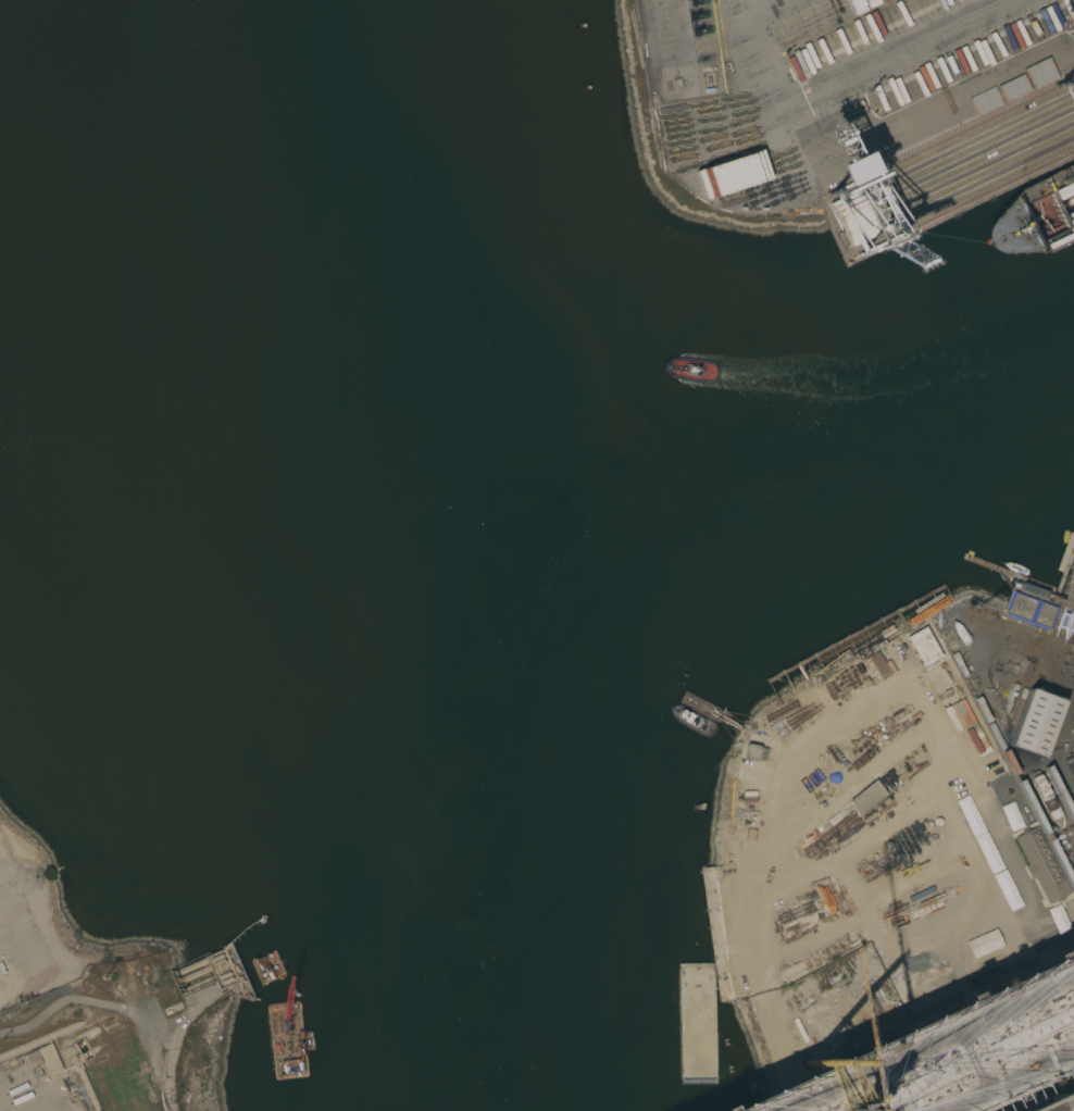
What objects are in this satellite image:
road: (763, 8)
road: (898, 54)
road: (867, 142)
building: (846, 168)
building: (720, 179)
building: (1031, 609)
building: (922, 646)
road: (1072, 689)
building: (1034, 723)
road: (834, 734)
building: (753, 752)
road: (962, 772)
building: (865, 798)
building: (1039, 866)
building: (193, 966)
building: (197, 973)
road: (940, 1035)
road: (925, 1041)
road: (1050, 1041)
building: (46, 1059)
power plant: (40, 1064)
road: (992, 1073)

